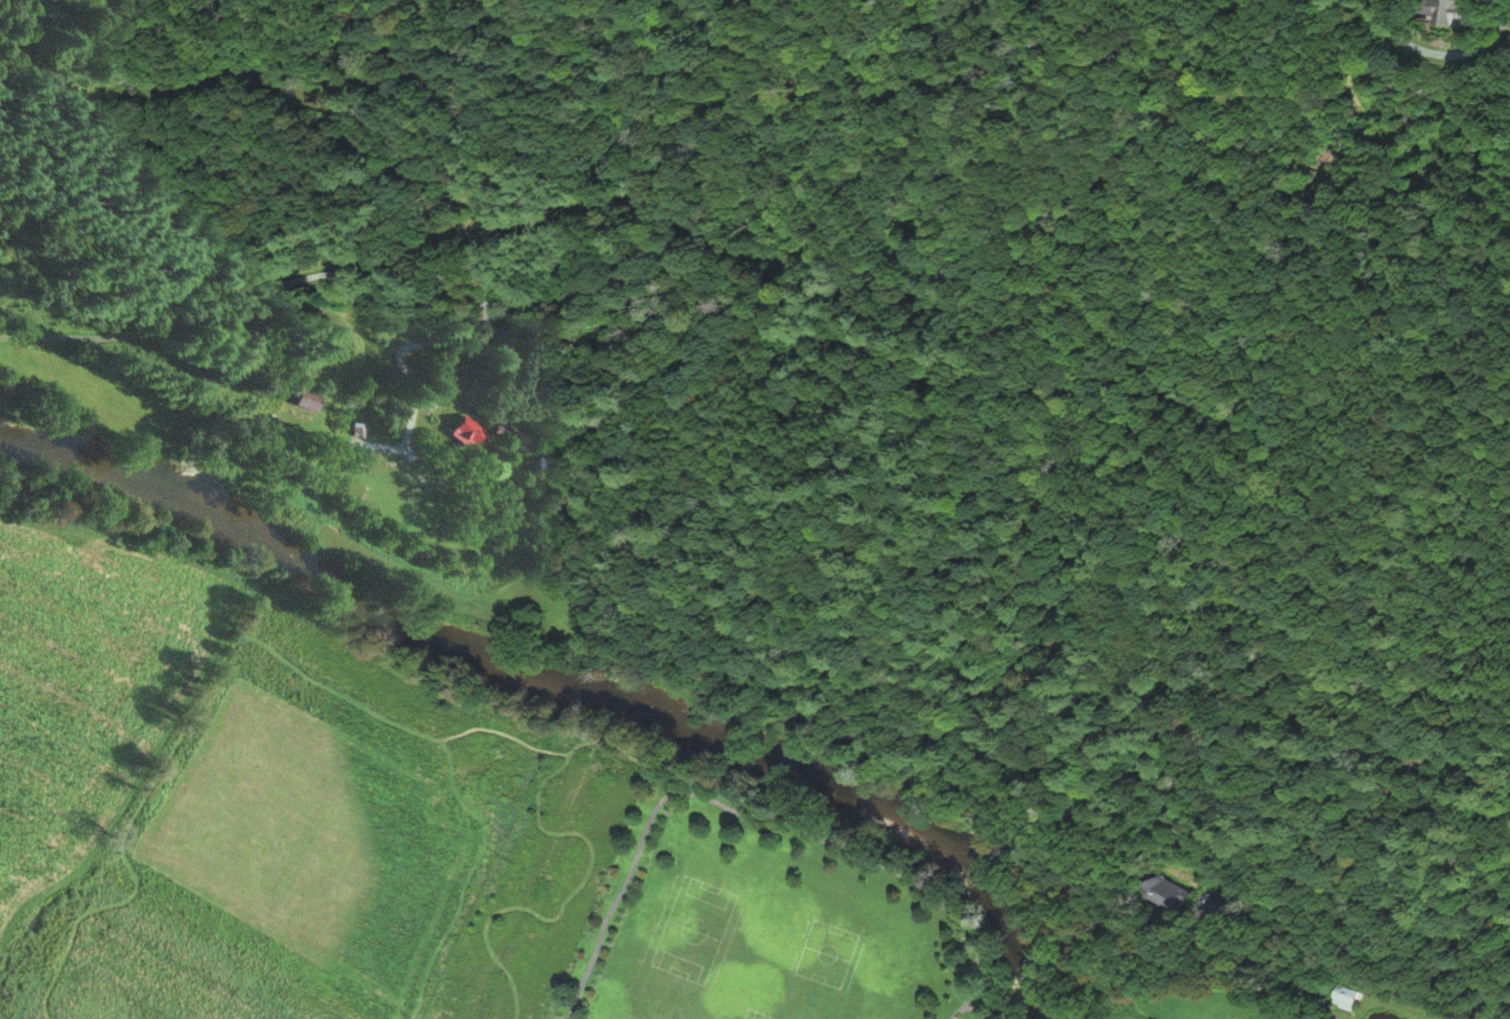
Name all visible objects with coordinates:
building: (1446, 12)
road: (1428, 51)
road: (171, 329)
building: (304, 402)
building: (357, 430)
building: (467, 434)
building: (502, 434)
building: (542, 464)
building: (574, 502)
road: (250, 628)
river: (565, 689)
road: (763, 817)
road: (459, 871)
road: (566, 894)
park: (710, 907)
building: (1216, 908)
building: (487, 927)
road: (1268, 960)
building: (1340, 1000)
road: (996, 1004)
road: (414, 1017)

